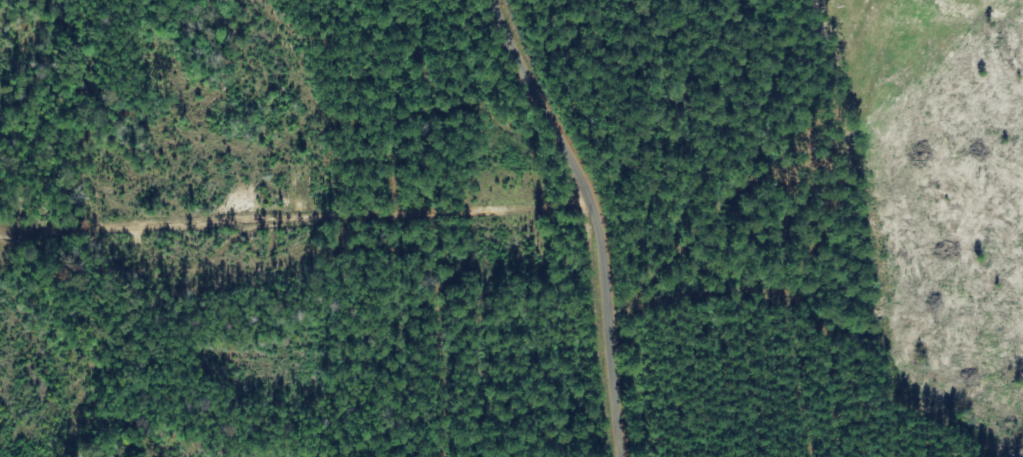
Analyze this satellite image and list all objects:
road: (571, 221)
road: (286, 233)

